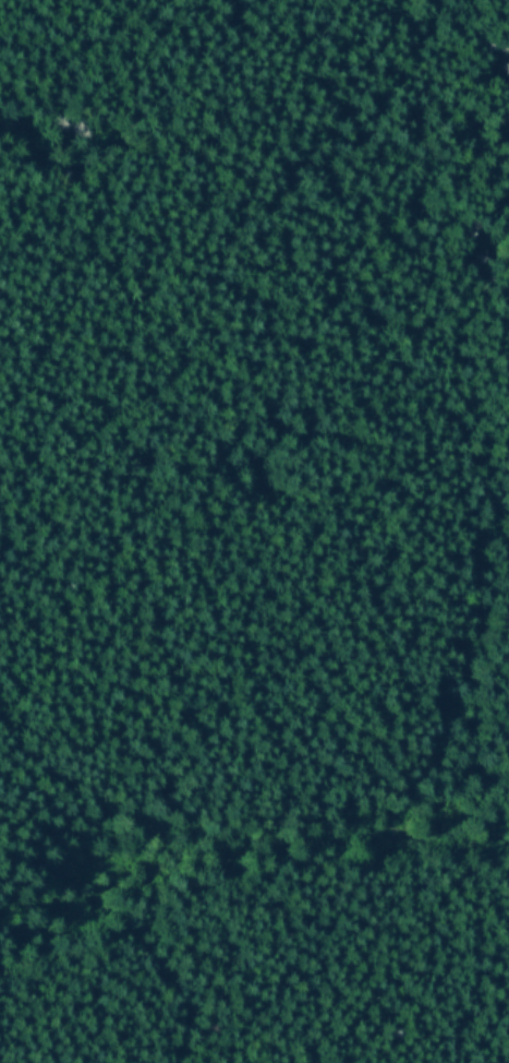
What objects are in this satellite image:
road: (157, 188)

